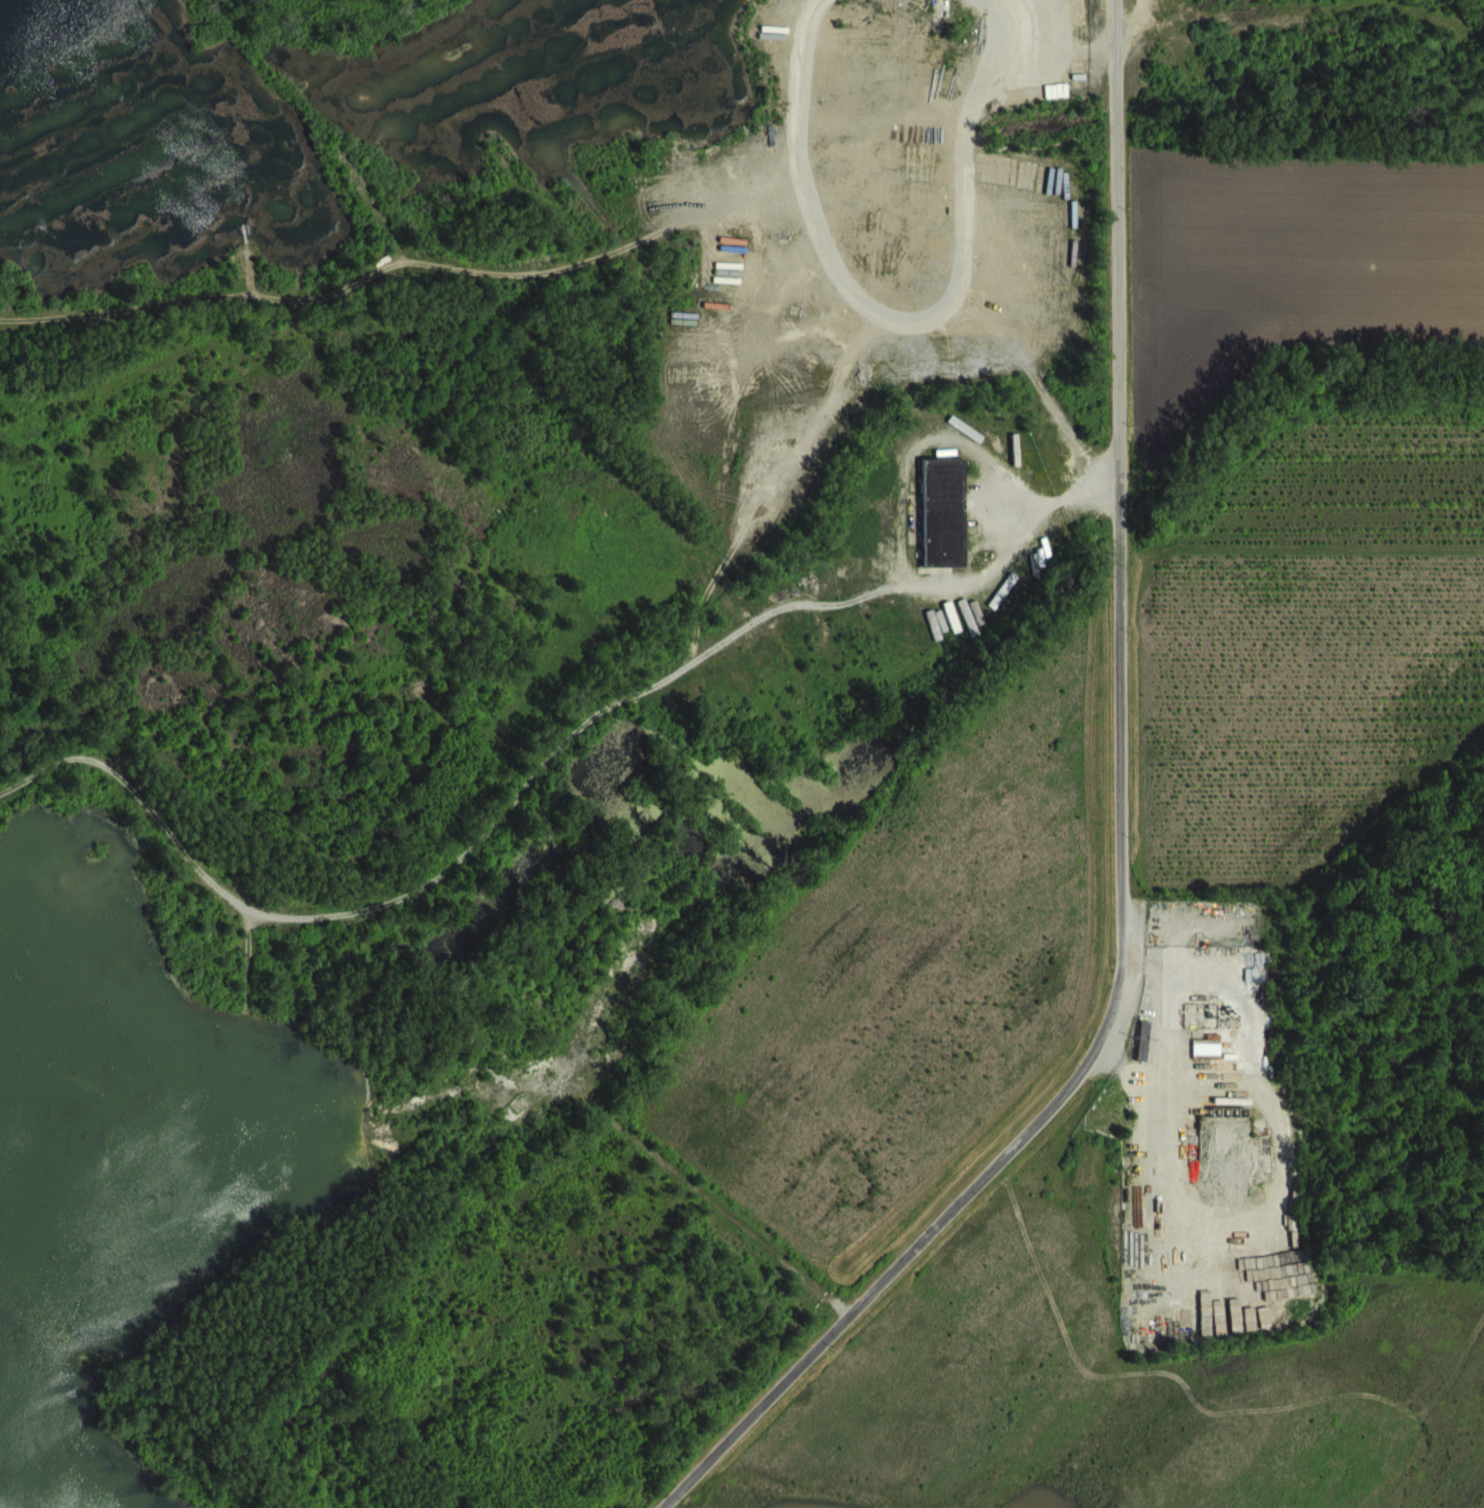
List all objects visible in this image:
road: (1117, 183)
building: (942, 511)
road: (1023, 524)
road: (1118, 701)
building: (1187, 1090)
road: (1138, 1096)
building: (1221, 1110)
road: (889, 1275)

